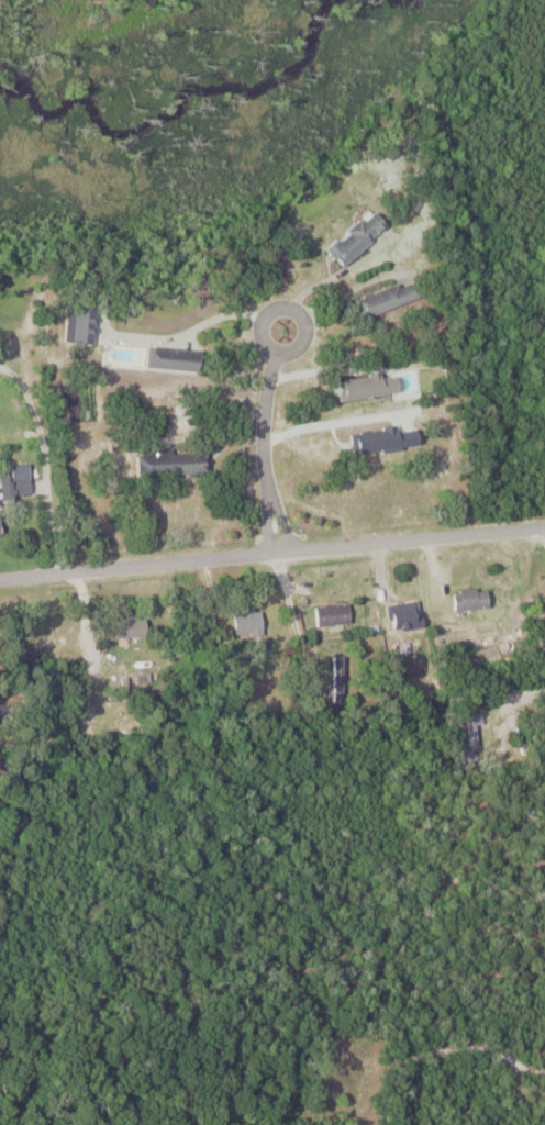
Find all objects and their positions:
building: (363, 234)
road: (338, 272)
road: (345, 294)
building: (397, 294)
road: (289, 305)
road: (208, 321)
building: (181, 358)
road: (333, 421)
road: (263, 428)
road: (55, 458)
building: (192, 461)
road: (271, 506)
building: (3, 523)
road: (271, 553)
building: (469, 597)
building: (340, 613)
building: (411, 613)
building: (252, 620)
building: (132, 625)
building: (345, 688)
road: (510, 690)
building: (464, 724)

